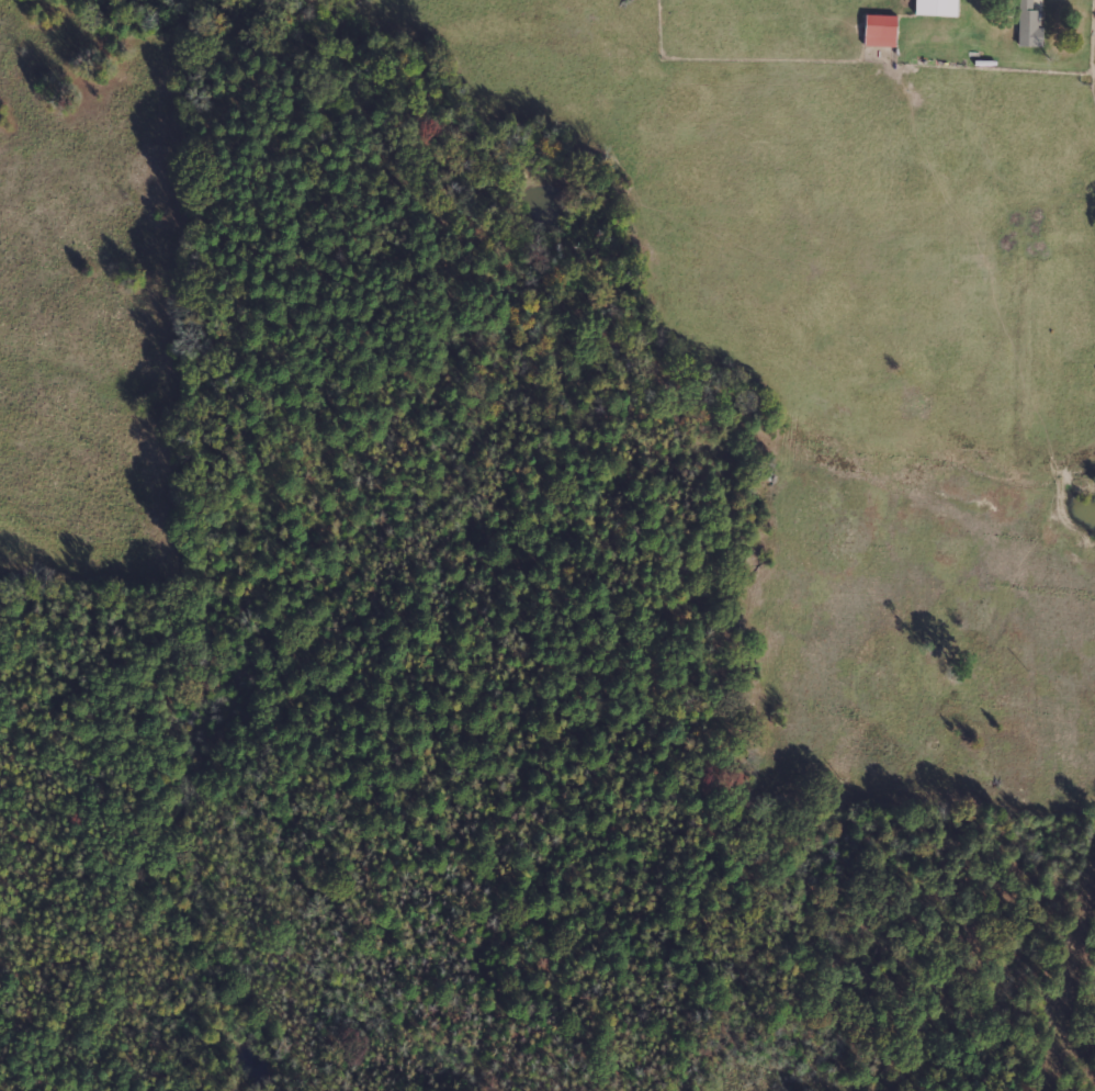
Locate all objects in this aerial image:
building: (936, 8)
building: (1029, 25)
building: (881, 32)

